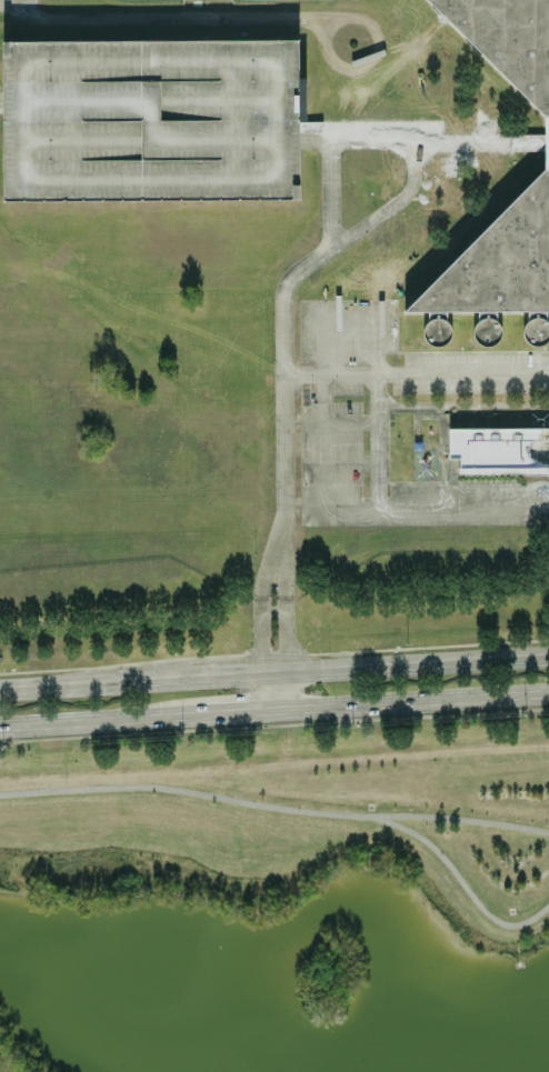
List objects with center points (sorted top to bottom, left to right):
building: (512, 54)
building: (151, 122)
parking garage: (151, 122)
building: (499, 263)
wastewater plant: (271, 298)
building: (499, 450)
road: (269, 612)
road: (258, 614)
road: (280, 614)
road: (274, 669)
road: (271, 691)
road: (410, 703)
road: (237, 714)
road: (100, 721)
road: (273, 808)
road: (457, 884)
park: (279, 902)

